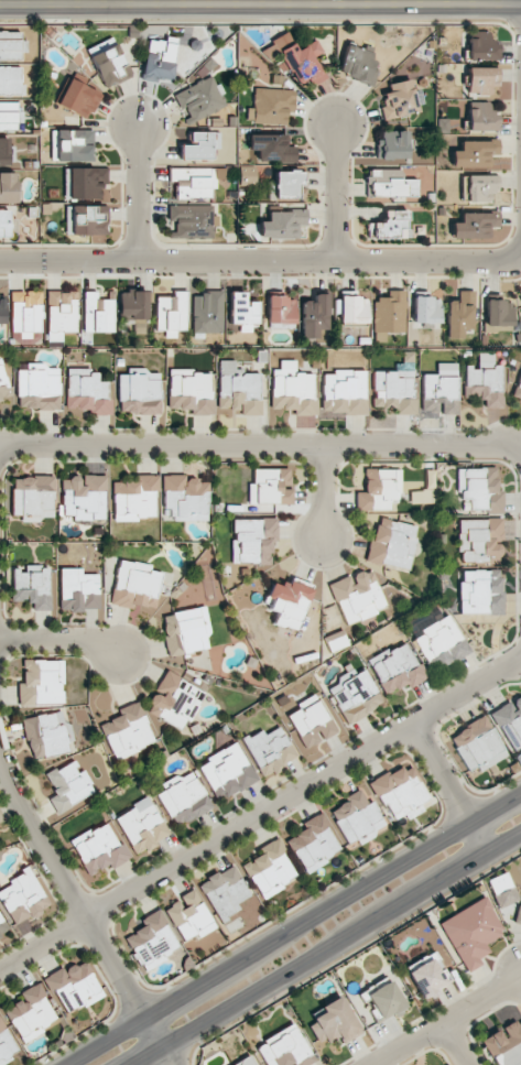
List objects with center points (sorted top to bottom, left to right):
road: (260, 4)
building: (11, 46)
building: (481, 46)
building: (301, 59)
building: (159, 61)
building: (108, 63)
building: (358, 64)
building: (480, 79)
building: (10, 80)
building: (78, 99)
building: (202, 99)
building: (400, 99)
building: (270, 106)
building: (9, 116)
building: (481, 117)
building: (70, 145)
building: (200, 145)
building: (392, 145)
building: (271, 148)
building: (3, 152)
building: (474, 153)
building: (193, 182)
building: (85, 183)
building: (390, 184)
building: (289, 185)
building: (8, 187)
road: (137, 191)
road: (335, 193)
building: (192, 219)
building: (86, 220)
building: (3, 222)
building: (282, 224)
building: (474, 225)
building: (390, 227)
road: (262, 260)
road: (260, 276)
building: (133, 305)
building: (352, 307)
building: (426, 309)
building: (2, 311)
building: (207, 312)
building: (242, 312)
building: (25, 313)
building: (97, 313)
building: (281, 313)
building: (61, 314)
building: (171, 314)
building: (459, 314)
building: (314, 315)
building: (389, 315)
building: (499, 316)
building: (2, 384)
building: (484, 384)
building: (518, 389)
building: (36, 390)
building: (393, 392)
building: (87, 393)
building: (191, 393)
building: (240, 393)
building: (293, 393)
building: (345, 393)
building: (438, 393)
building: (139, 394)
building: (0, 400)
road: (260, 428)
road: (260, 446)
road: (4, 458)
road: (378, 460)
road: (515, 460)
road: (323, 463)
building: (271, 486)
building: (481, 489)
building: (377, 490)
road: (322, 493)
building: (32, 495)
building: (84, 495)
building: (135, 496)
building: (184, 496)
building: (253, 540)
building: (481, 540)
building: (390, 543)
building: (133, 584)
building: (32, 588)
building: (78, 589)
building: (482, 593)
building: (355, 595)
building: (286, 599)
building: (182, 632)
road: (9, 640)
road: (59, 640)
road: (518, 640)
building: (336, 643)
building: (442, 644)
building: (399, 669)
building: (39, 683)
building: (356, 697)
building: (174, 699)
building: (311, 722)
building: (509, 722)
building: (127, 728)
building: (46, 733)
road: (421, 737)
road: (441, 741)
building: (476, 742)
building: (268, 750)
building: (518, 759)
building: (227, 771)
building: (65, 785)
road: (449, 786)
building: (398, 790)
road: (447, 790)
building: (184, 801)
road: (507, 811)
road: (261, 814)
building: (355, 815)
road: (433, 823)
building: (141, 829)
building: (313, 840)
road: (442, 848)
building: (99, 849)
building: (269, 866)
road: (48, 888)
building: (502, 890)
building: (219, 892)
building: (24, 898)
road: (76, 910)
building: (188, 915)
building: (519, 917)
building: (2, 924)
road: (292, 927)
building: (471, 933)
building: (151, 938)
road: (77, 945)
road: (327, 948)
road: (104, 979)
building: (426, 979)
road: (124, 984)
building: (74, 986)
building: (384, 1000)
road: (180, 1007)
building: (30, 1010)
road: (444, 1019)
building: (334, 1022)
road: (117, 1043)
road: (456, 1043)
building: (4, 1044)
building: (504, 1044)
building: (285, 1048)
building: (246, 1062)

